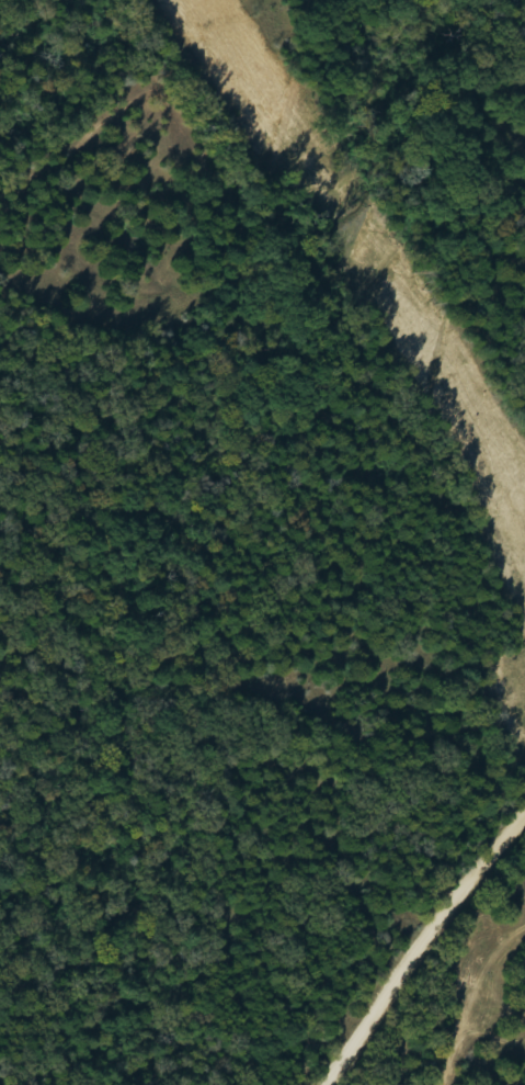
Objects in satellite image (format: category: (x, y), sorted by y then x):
road: (514, 849)
road: (424, 951)

